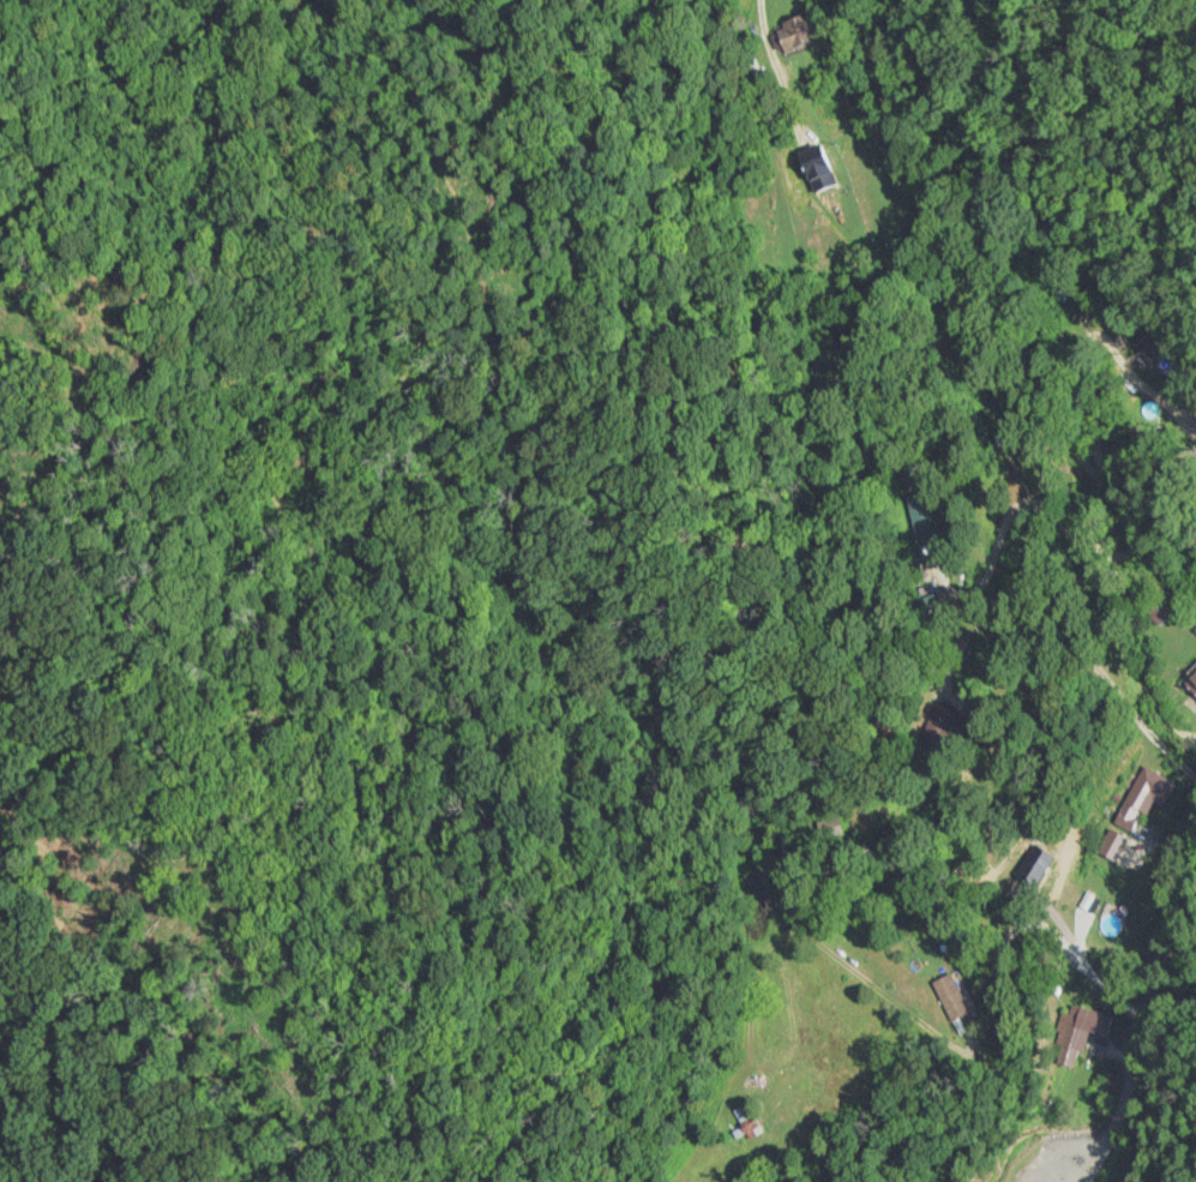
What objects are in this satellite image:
building: (794, 35)
road: (1023, 365)
building: (1158, 608)
building: (1190, 680)
building: (1143, 797)
building: (1111, 845)
building: (1032, 866)
building: (949, 997)
road: (1143, 1002)
building: (1077, 1033)
building: (793, 1088)

